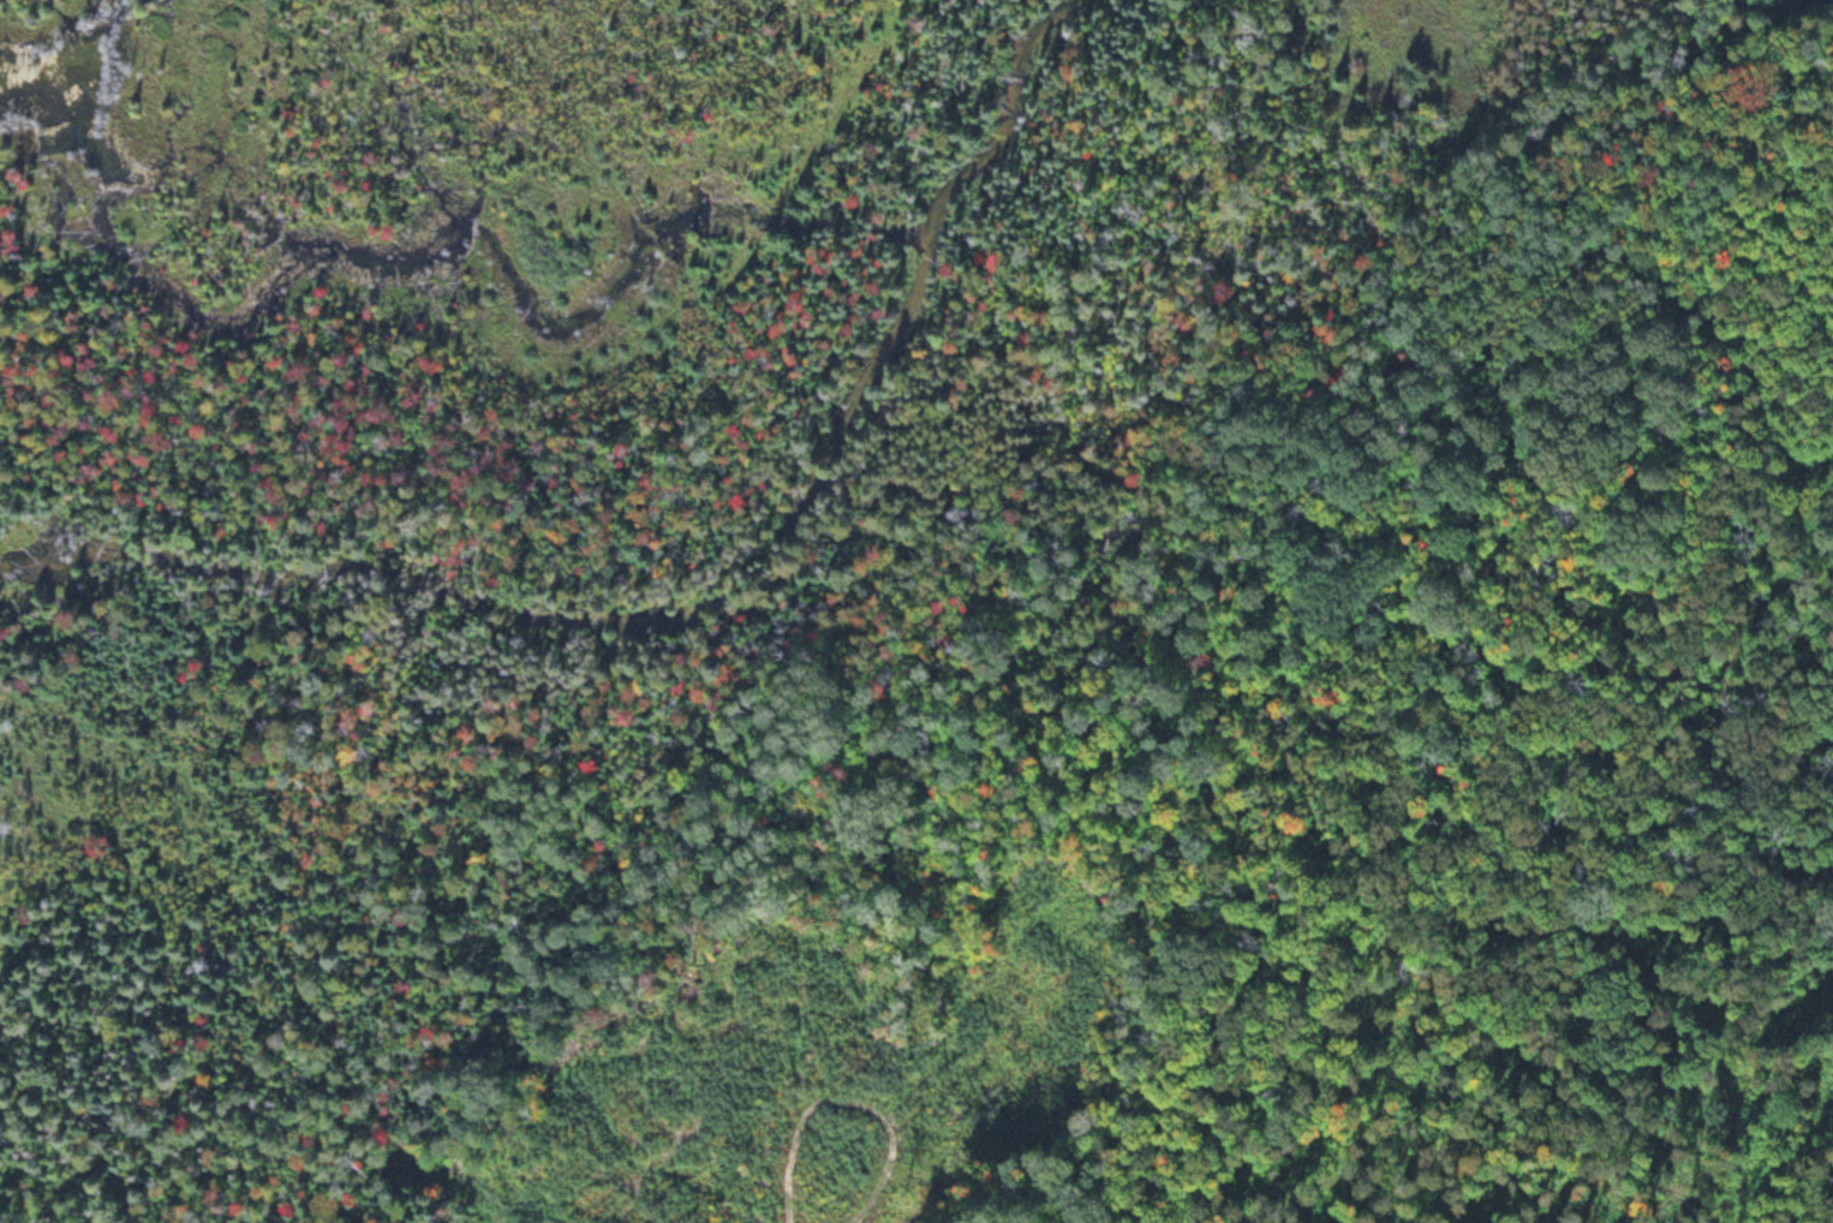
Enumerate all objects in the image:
river: (716, 598)

